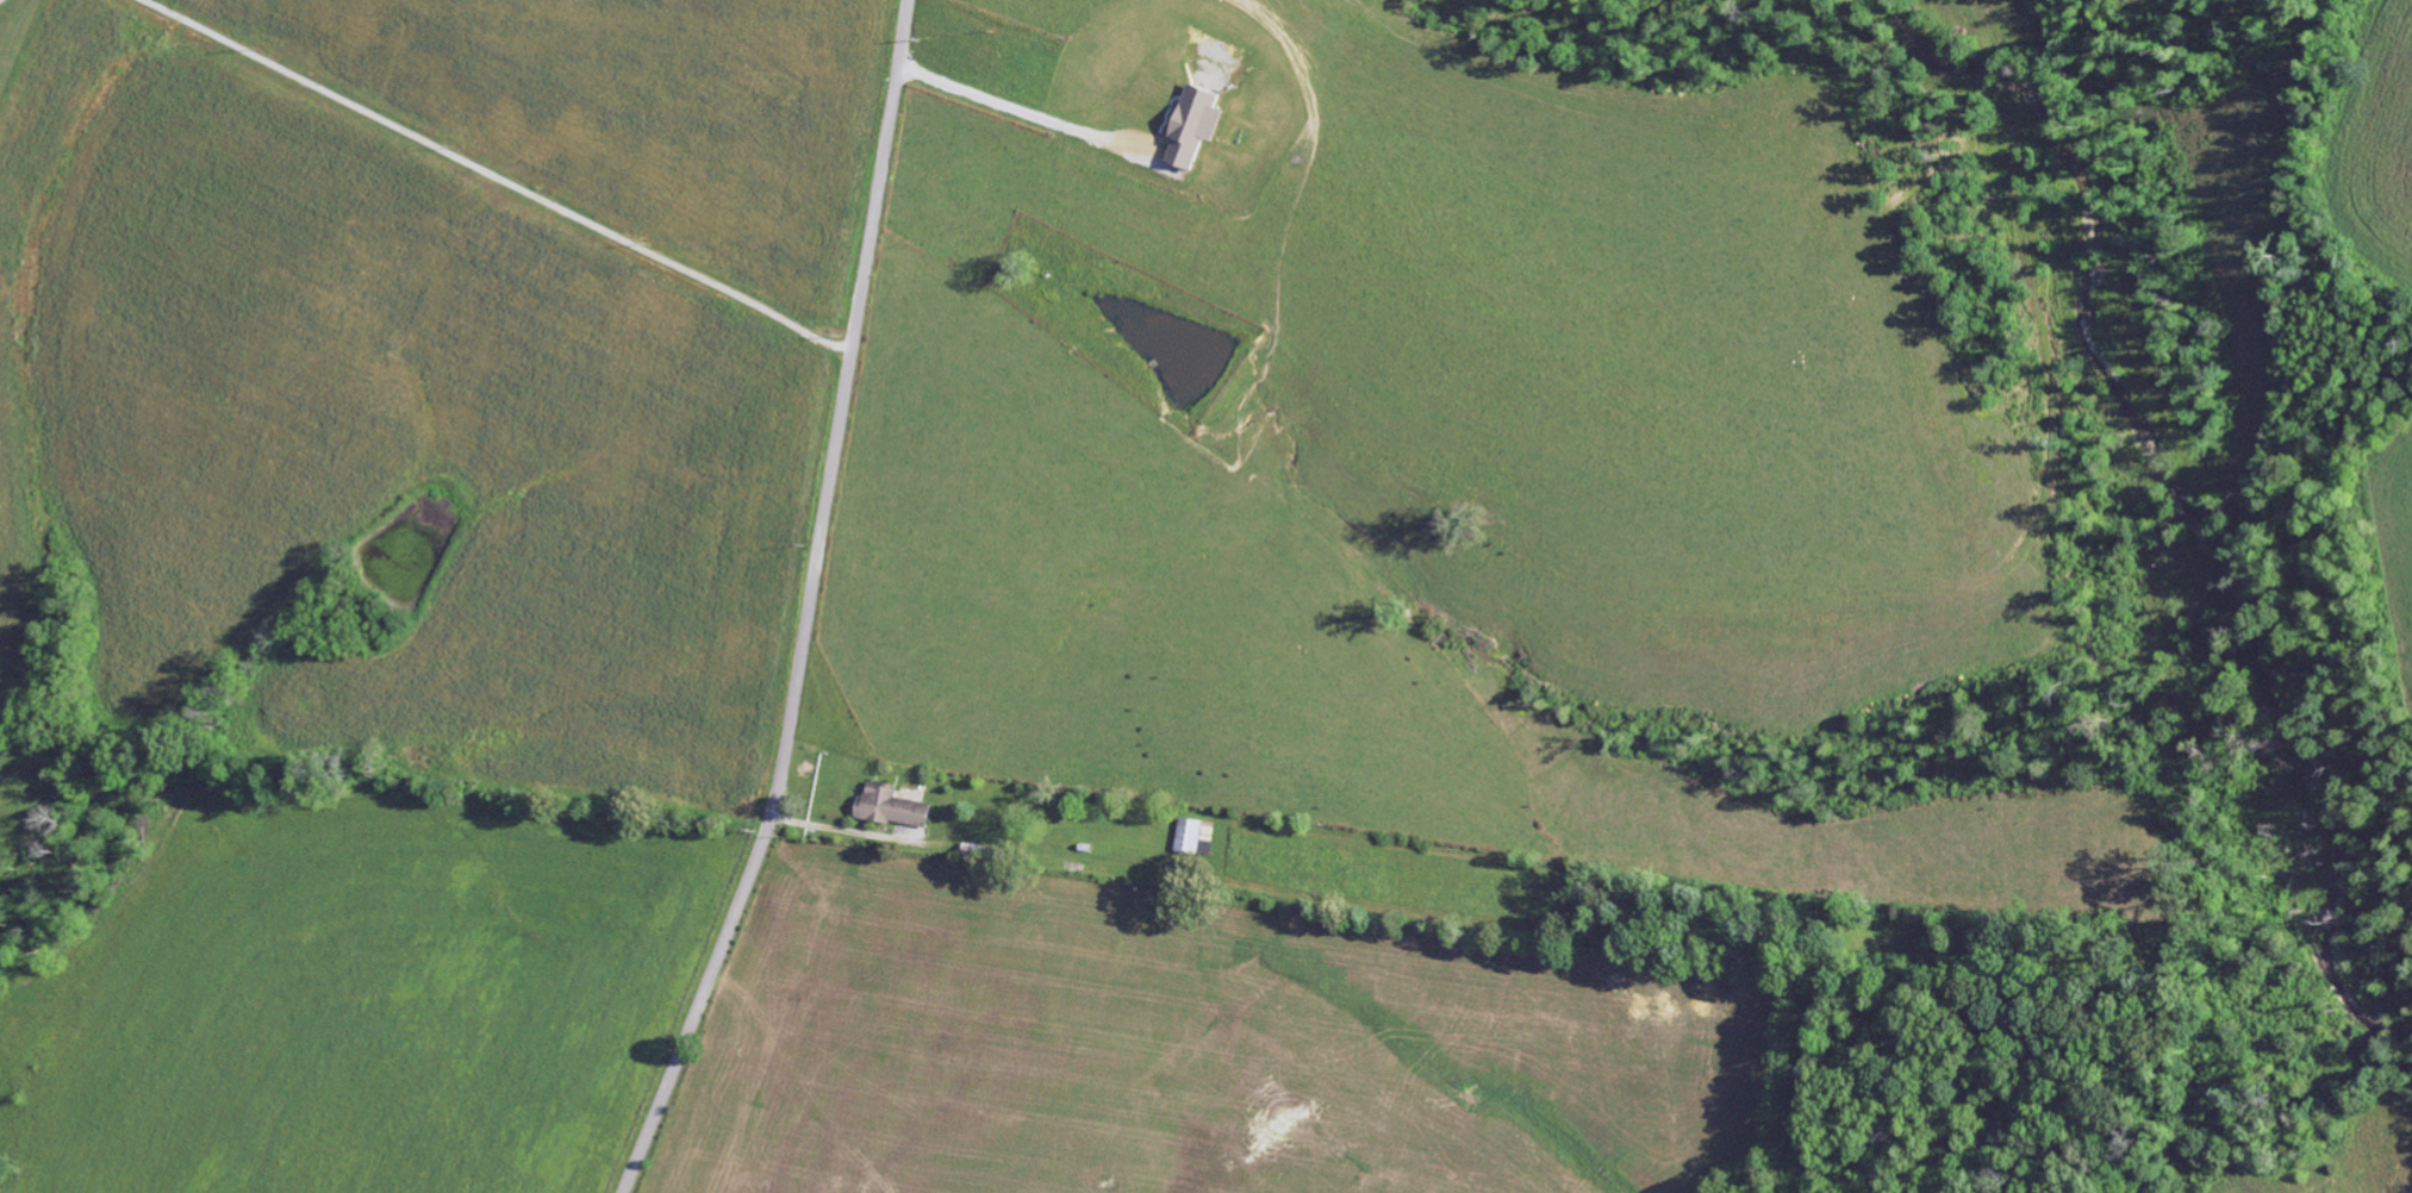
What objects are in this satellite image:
road: (1026, 112)
building: (1190, 123)
road: (498, 177)
road: (810, 608)
building: (887, 805)
building: (1191, 835)
building: (1082, 845)
building: (981, 849)

